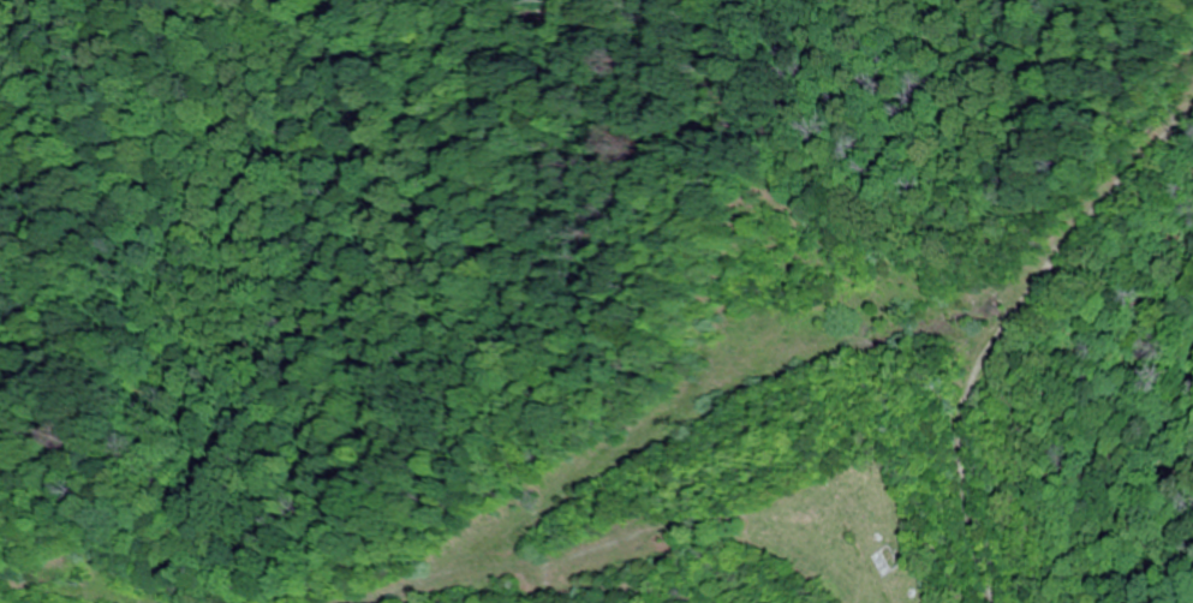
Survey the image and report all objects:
building: (876, 561)

